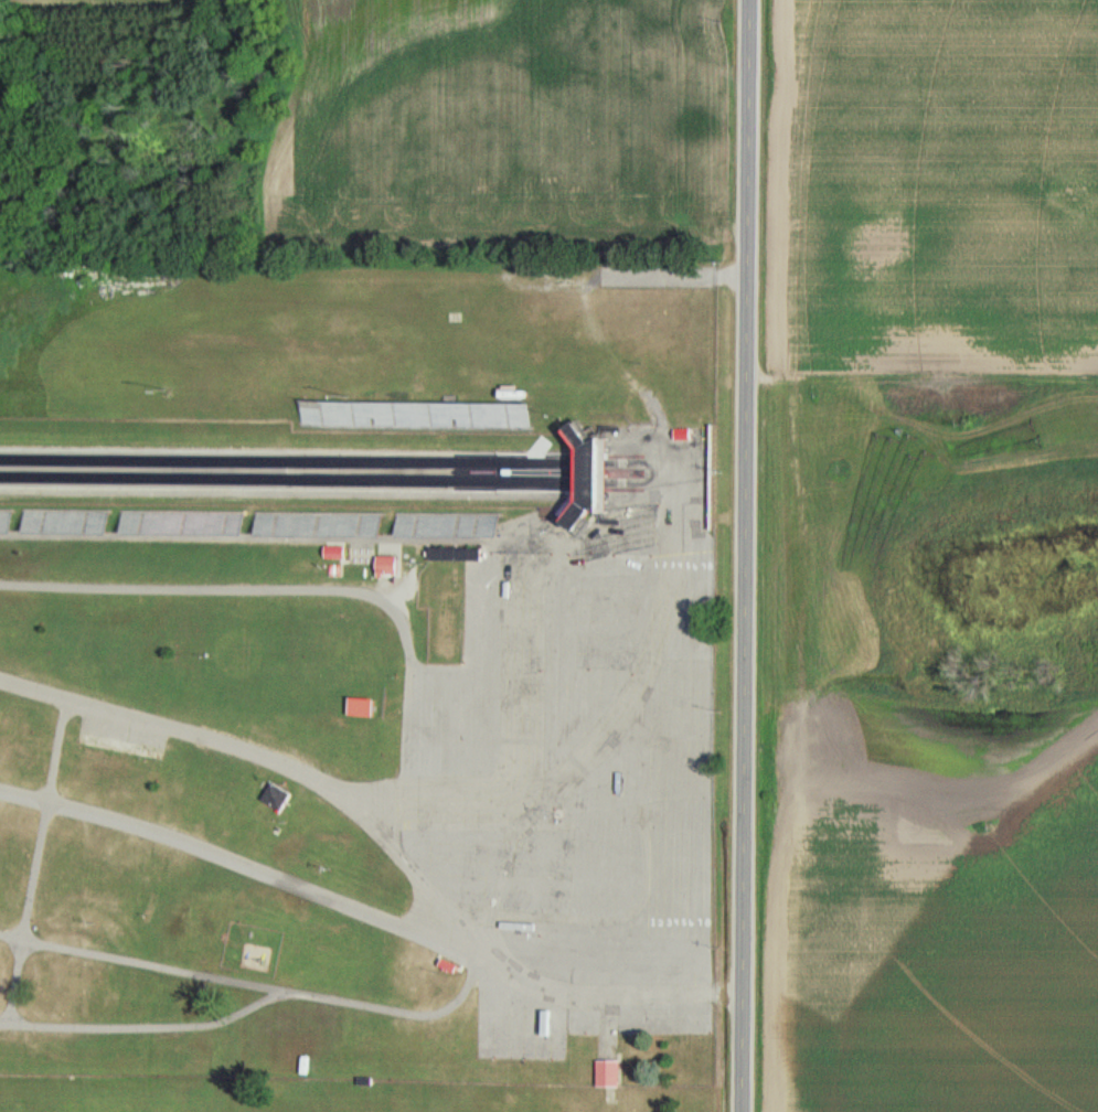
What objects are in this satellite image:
stadium: (295, 469)
raceway: (322, 469)
building: (580, 473)
road: (310, 496)
building: (313, 525)
road: (744, 555)
building: (382, 567)
road: (235, 590)
building: (354, 707)
parking lot: (574, 792)
building: (271, 798)
road: (383, 837)
road: (36, 865)
road: (260, 872)
building: (444, 966)
road: (253, 985)
road: (140, 1028)
building: (604, 1074)

